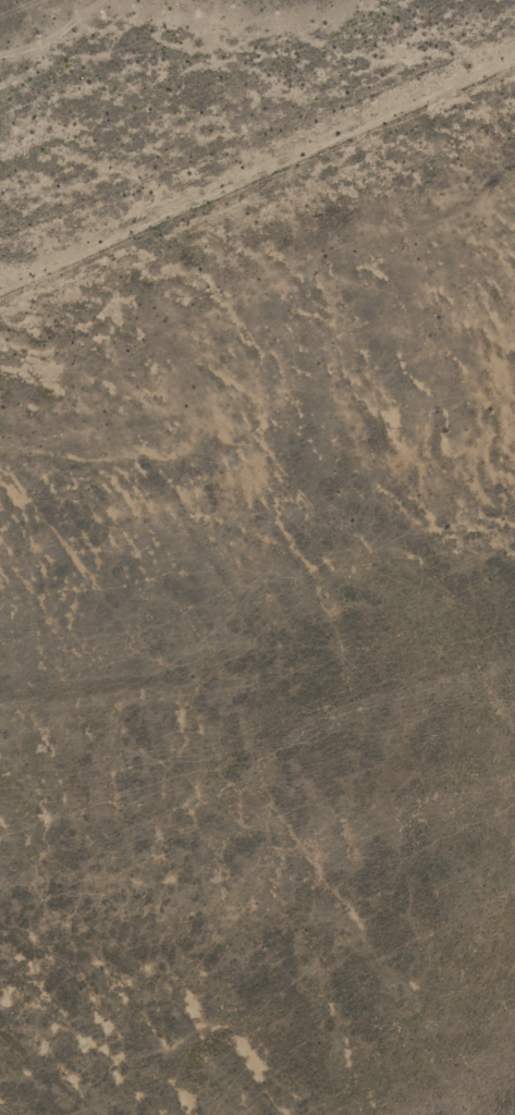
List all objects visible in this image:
road: (257, 269)

